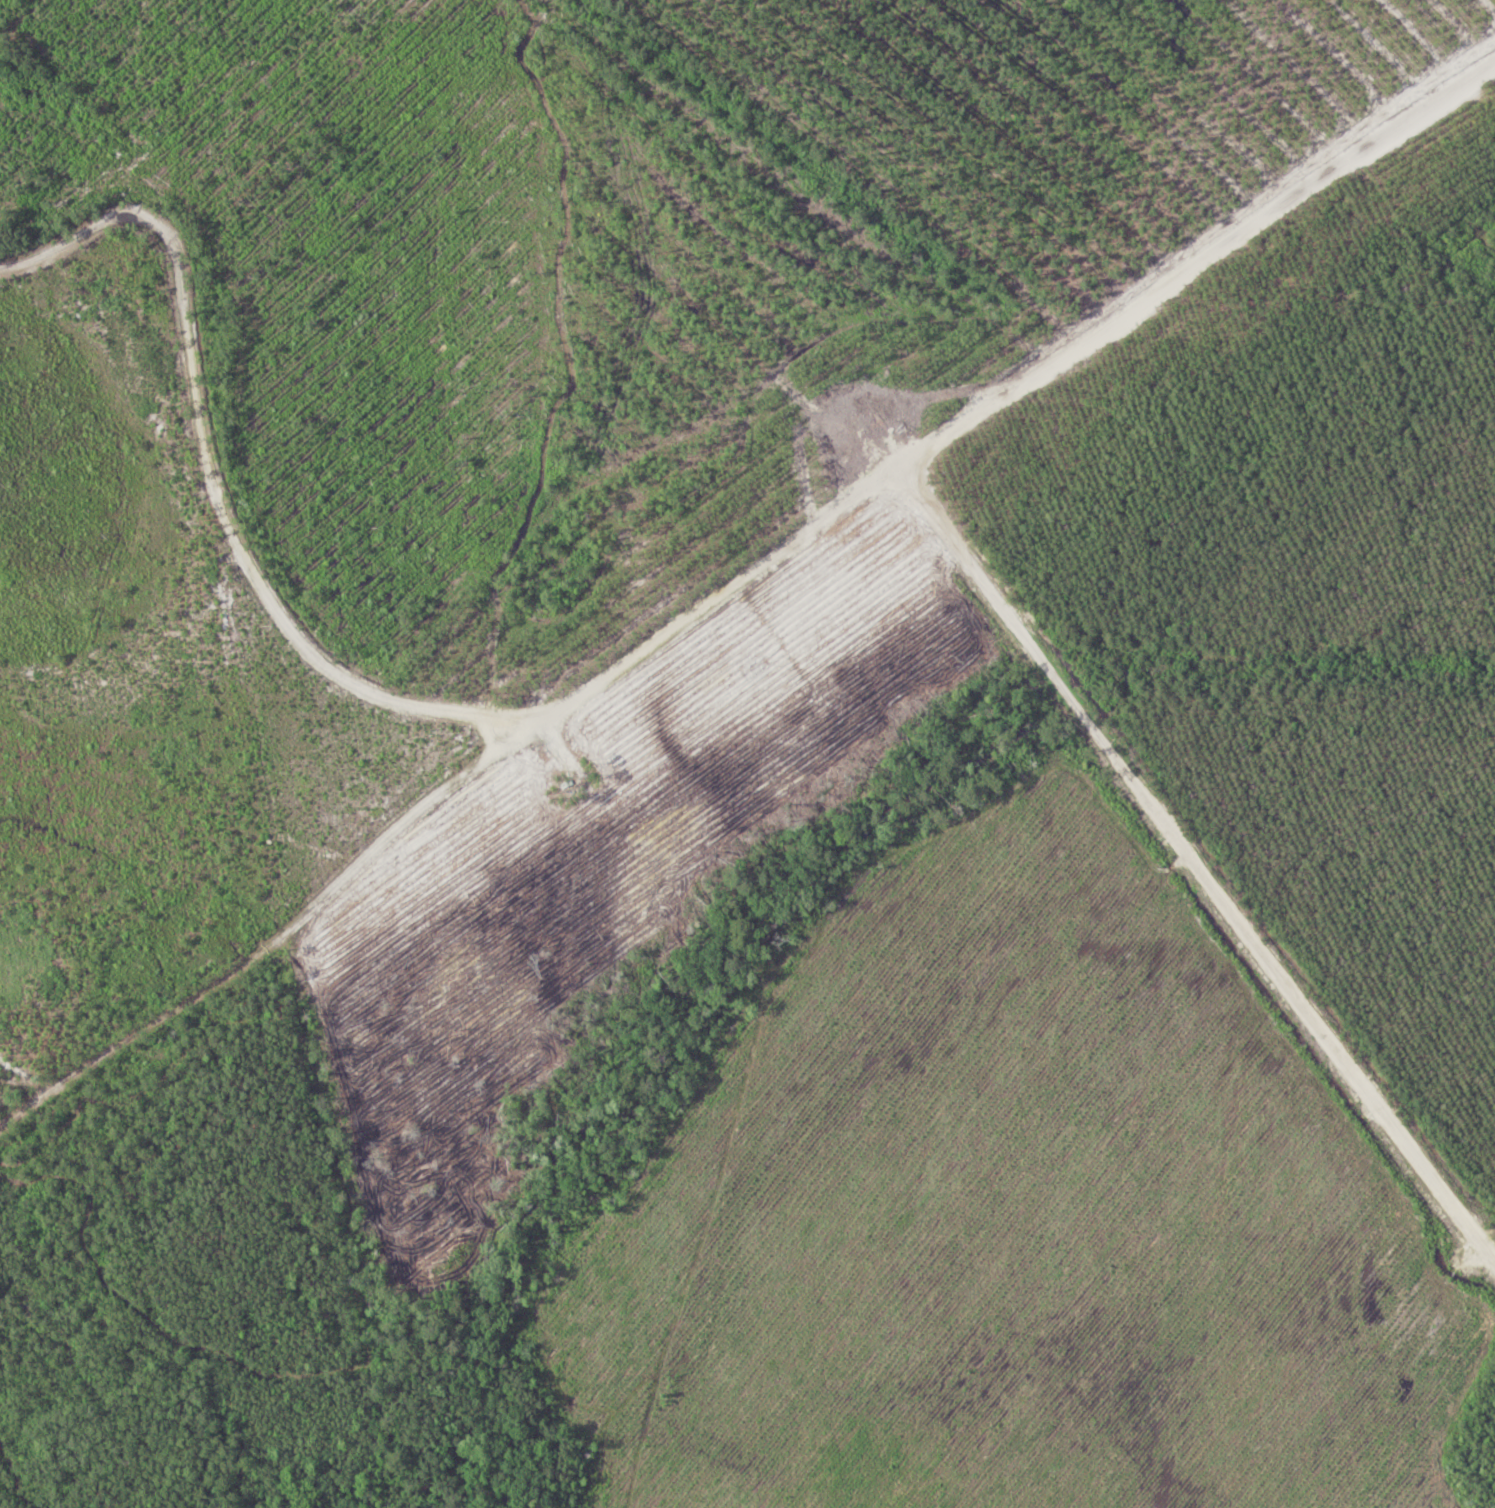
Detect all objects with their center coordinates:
road: (643, 646)
road: (1203, 870)
road: (264, 949)

